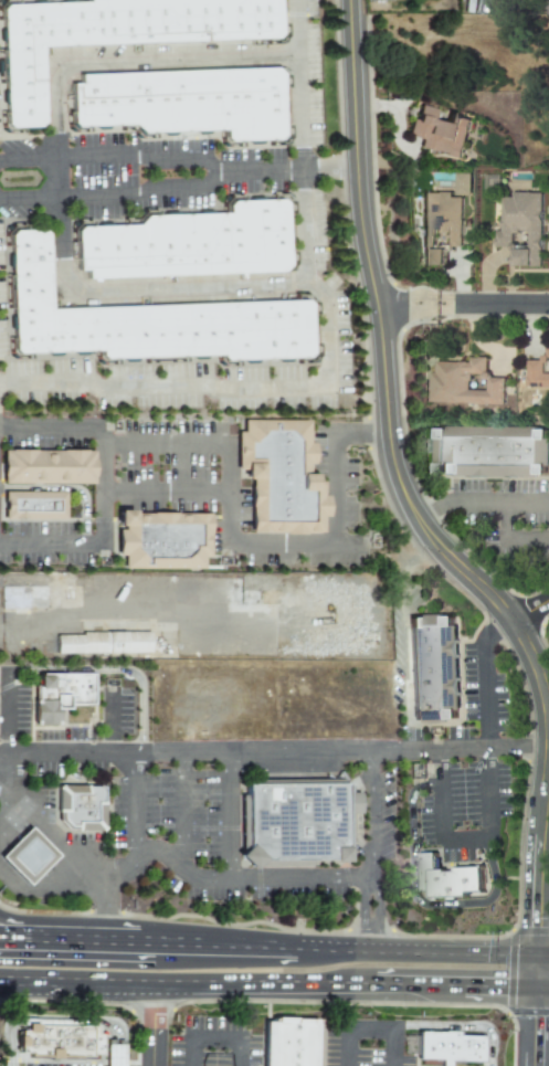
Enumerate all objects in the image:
building: (376, 0)
building: (113, 35)
road: (129, 63)
road: (299, 85)
building: (180, 102)
building: (439, 133)
road: (288, 170)
road: (221, 173)
building: (462, 184)
building: (439, 226)
building: (521, 228)
building: (188, 243)
road: (170, 291)
road: (462, 306)
building: (142, 320)
building: (538, 371)
building: (466, 384)
road: (218, 390)
road: (93, 433)
building: (490, 452)
building: (46, 466)
building: (279, 477)
road: (211, 496)
road: (481, 500)
building: (32, 505)
road: (413, 513)
road: (332, 538)
road: (98, 539)
building: (161, 539)
road: (506, 542)
building: (23, 599)
road: (529, 610)
road: (110, 616)
building: (102, 643)
road: (72, 668)
building: (433, 668)
building: (56, 694)
road: (547, 704)
road: (273, 750)
road: (2, 762)
road: (487, 793)
building: (80, 806)
road: (131, 812)
road: (229, 813)
road: (183, 814)
building: (295, 822)
road: (13, 826)
road: (53, 835)
road: (376, 848)
building: (27, 855)
road: (234, 876)
building: (448, 878)
road: (33, 884)
road: (418, 900)
road: (107, 909)
road: (17, 923)
traffic signals: (535, 923)
road: (17, 931)
road: (86, 931)
road: (147, 932)
road: (177, 935)
road: (246, 940)
road: (365, 947)
road: (484, 950)
road: (541, 951)
road: (30, 978)
road: (14, 982)
road: (215, 982)
road: (416, 985)
road: (498, 986)
road: (542, 988)
road: (358, 1004)
traffic signals: (534, 1017)
road: (62, 1021)
road: (151, 1023)
road: (532, 1026)
road: (457, 1027)
road: (369, 1030)
road: (137, 1036)
road: (113, 1039)
road: (214, 1039)
building: (57, 1041)
building: (288, 1042)
parking lot: (214, 1043)
parking lot: (367, 1044)
building: (448, 1048)
parking lot: (49, 1065)

